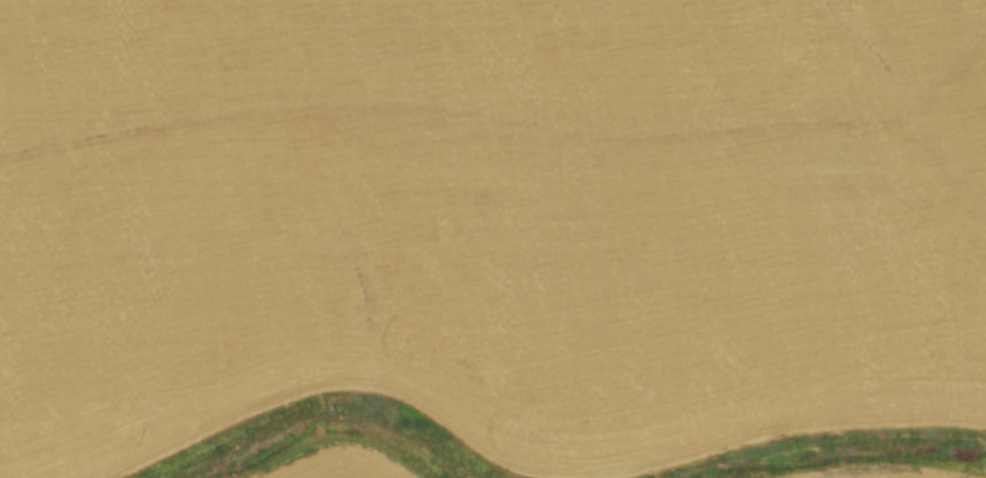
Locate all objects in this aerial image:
crop: (493, 239)

